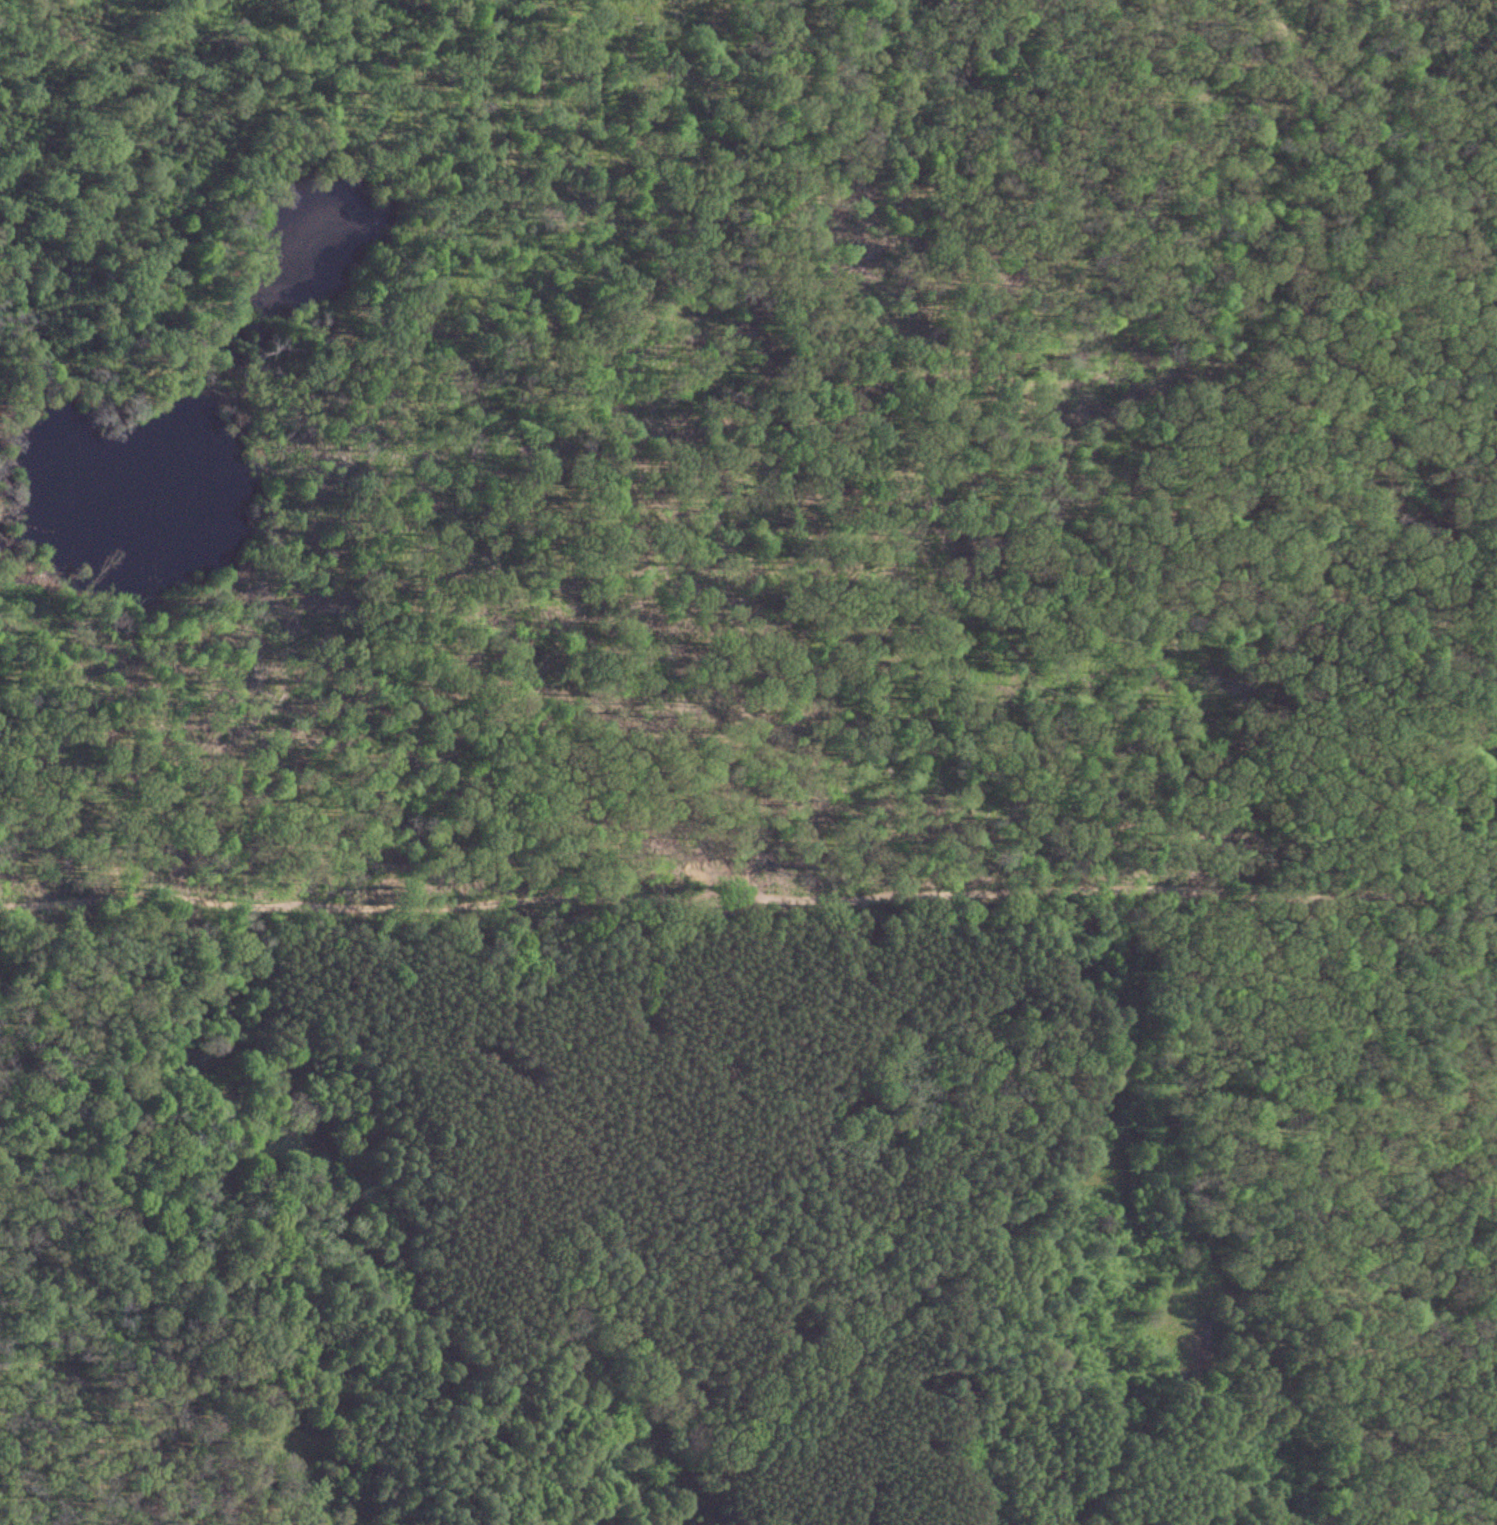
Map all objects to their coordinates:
road: (748, 877)
road: (182, 1372)

